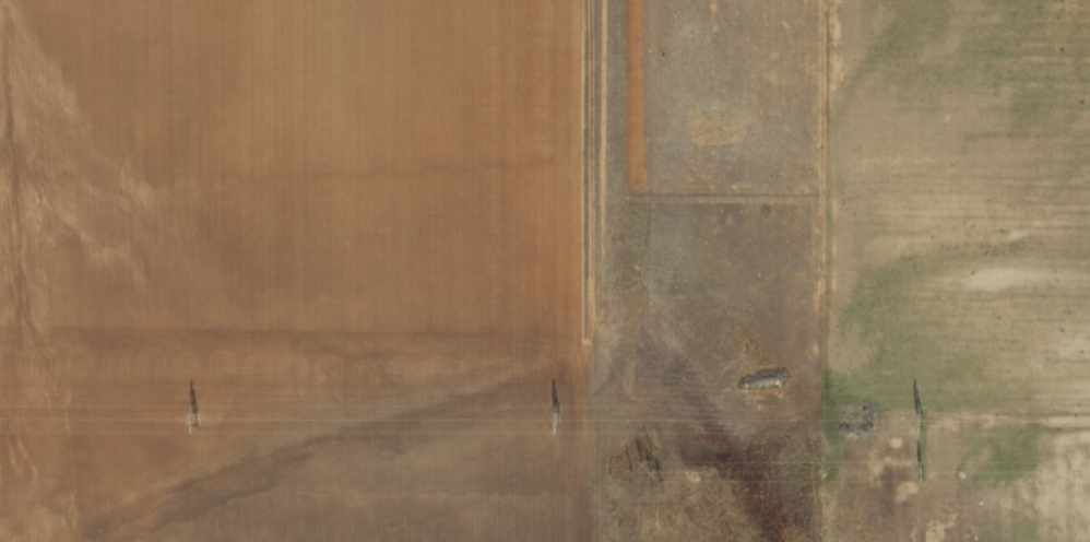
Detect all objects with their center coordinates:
power tower: (560, 417)
power tower: (199, 419)
power tower: (922, 419)
power tower: (653, 468)
power tower: (924, 469)

